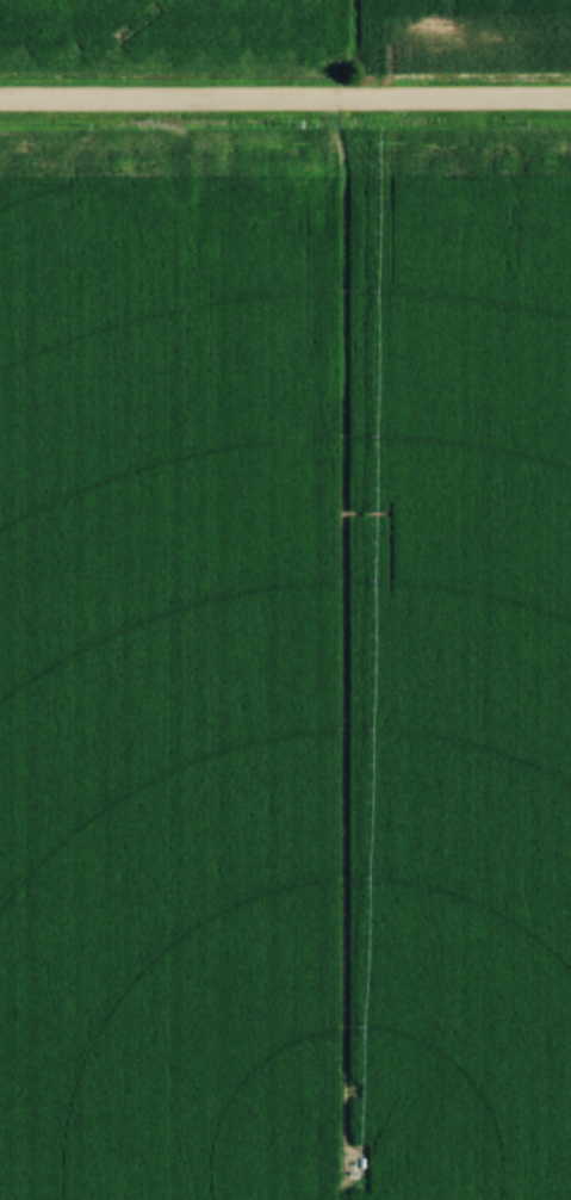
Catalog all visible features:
road: (285, 100)

